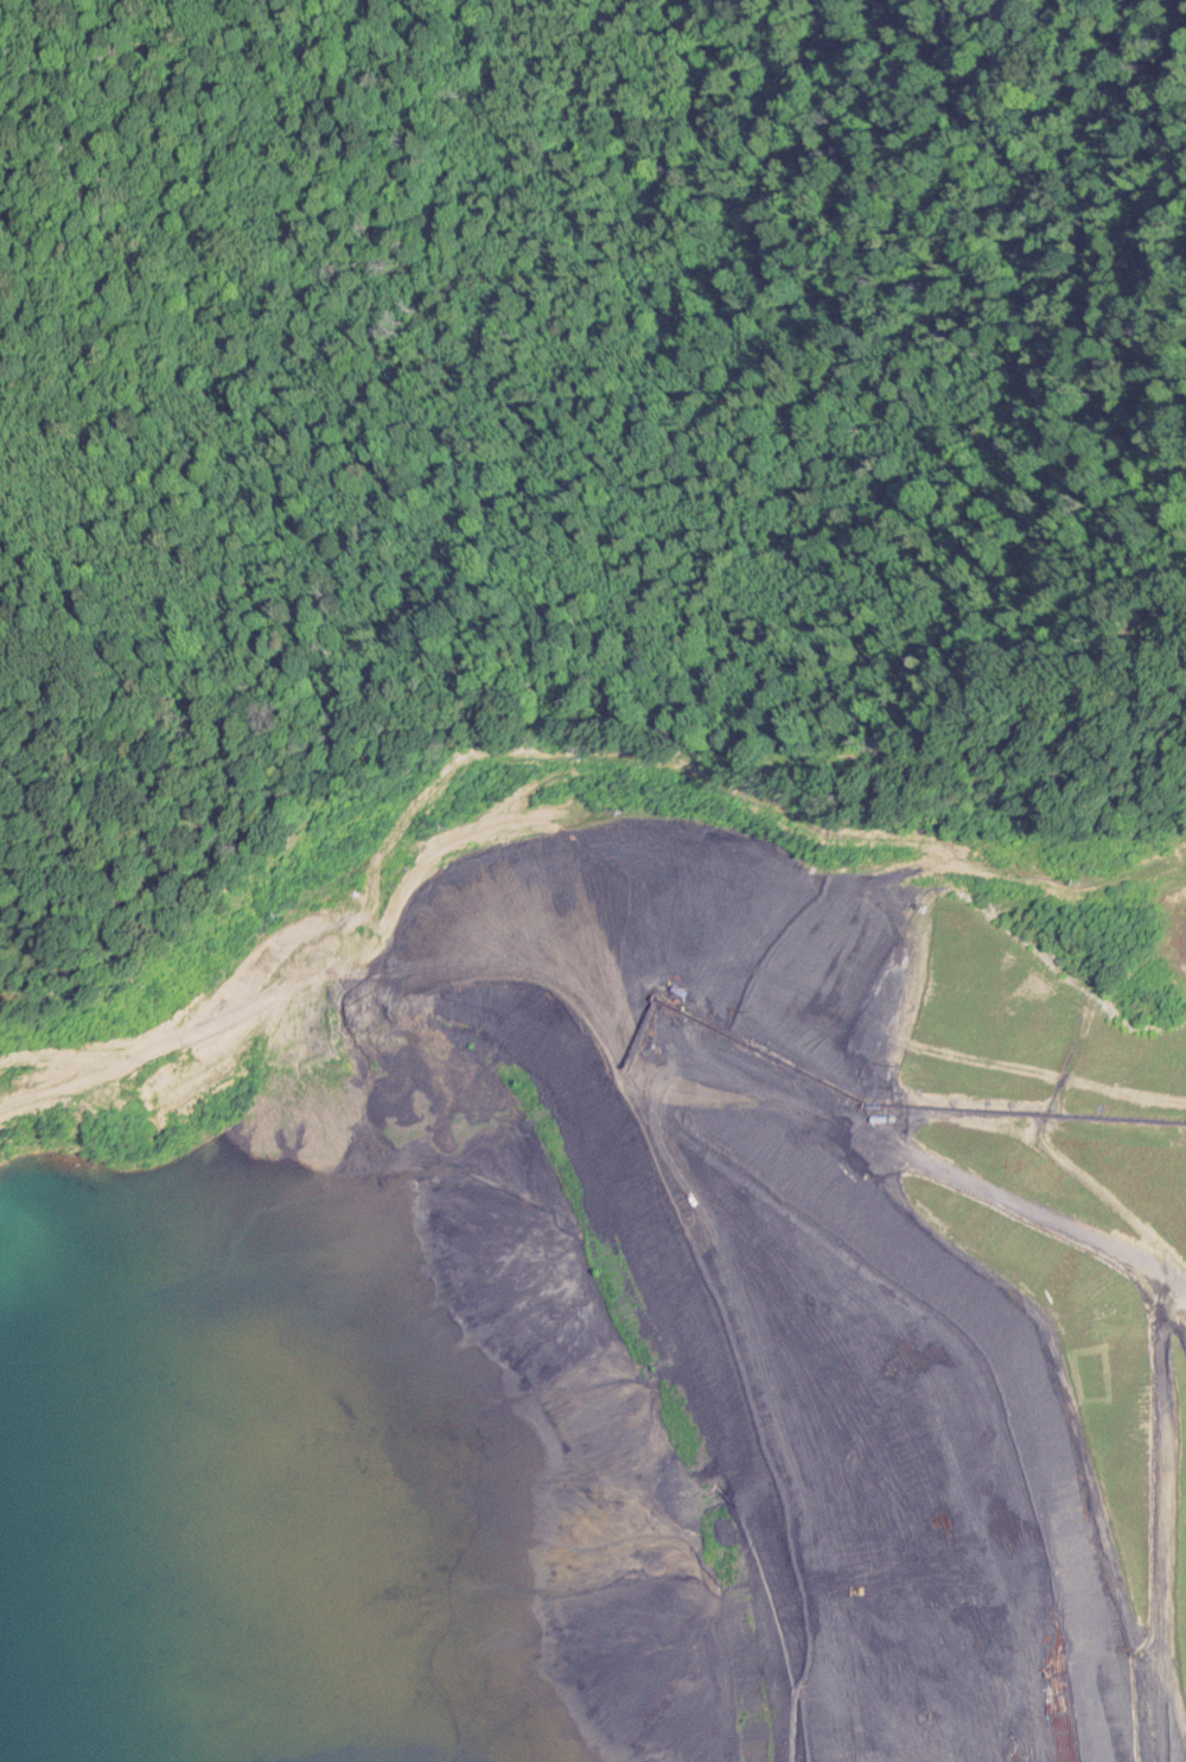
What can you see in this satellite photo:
quarry: (605, 1296)

